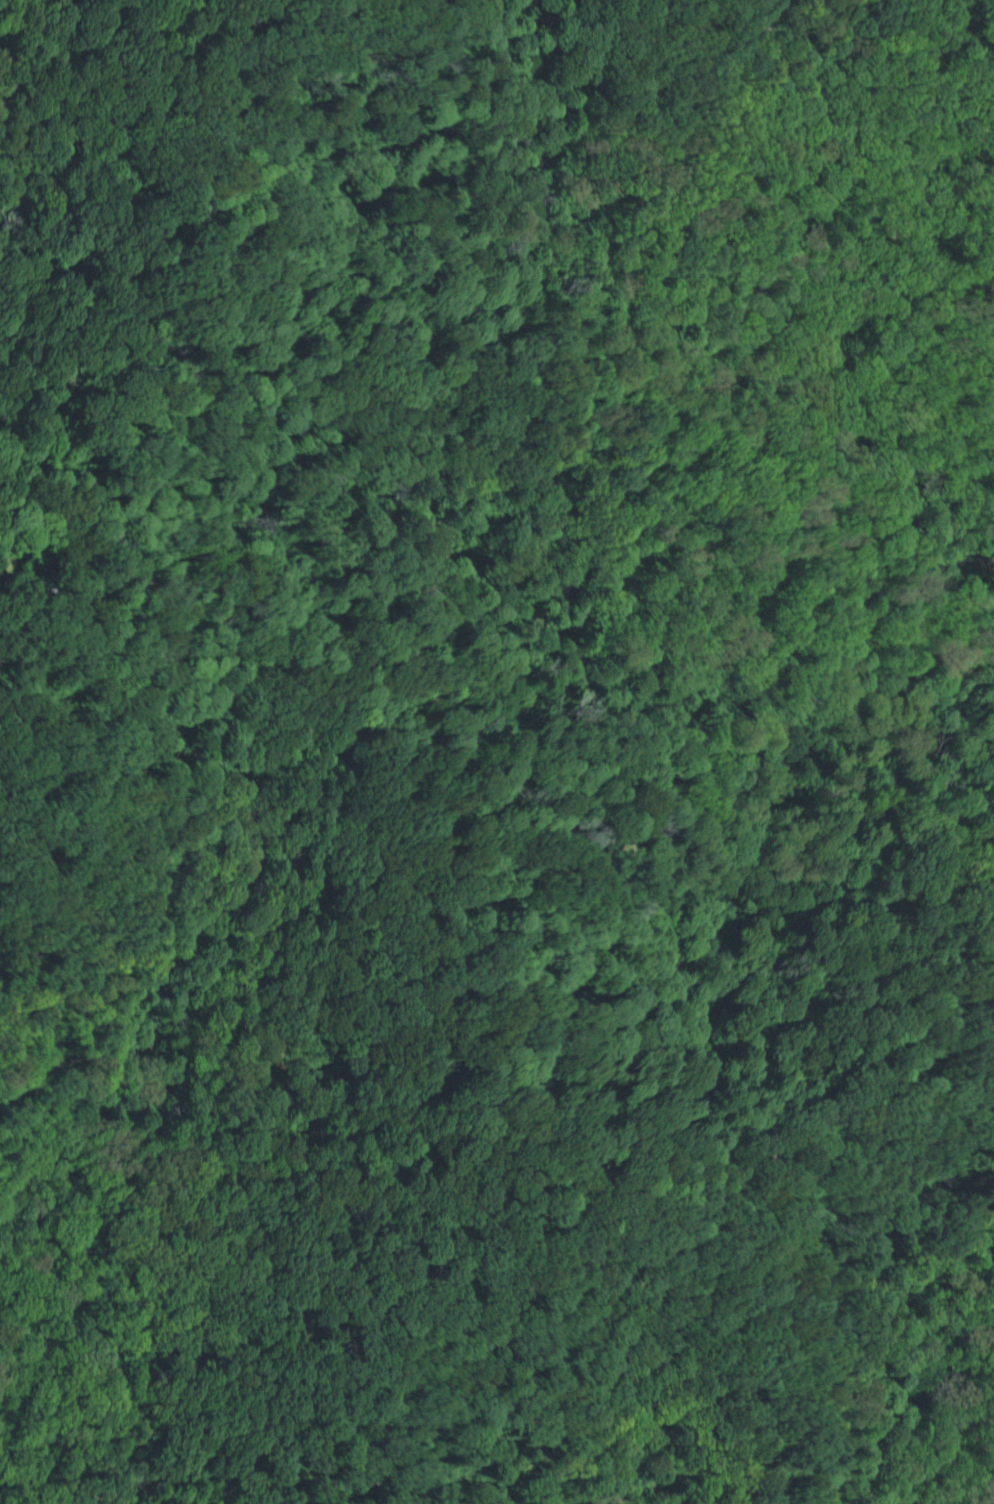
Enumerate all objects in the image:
road: (564, 54)
road: (231, 310)
road: (703, 508)
road: (486, 1034)

